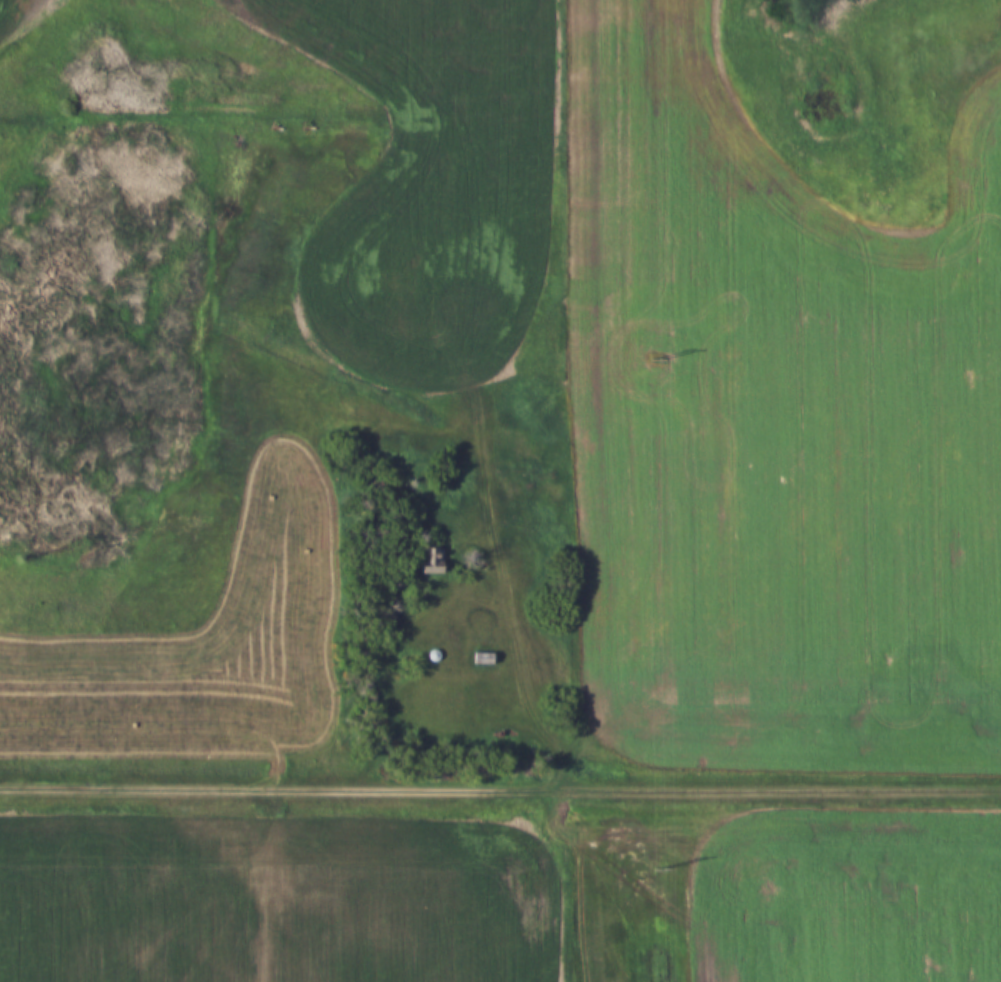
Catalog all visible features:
power tower: (654, 359)
building: (429, 561)
building: (480, 657)
road: (534, 671)
road: (500, 783)
power tower: (659, 867)

